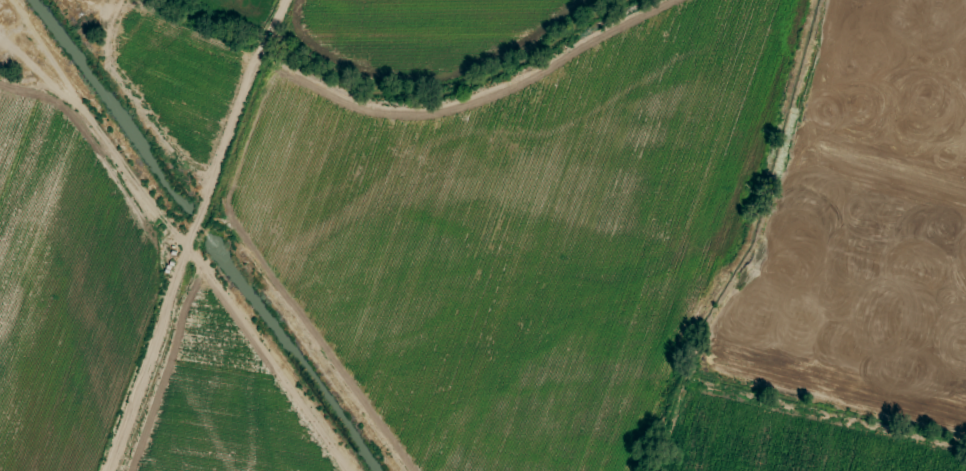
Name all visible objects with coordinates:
crop: (113, 326)

